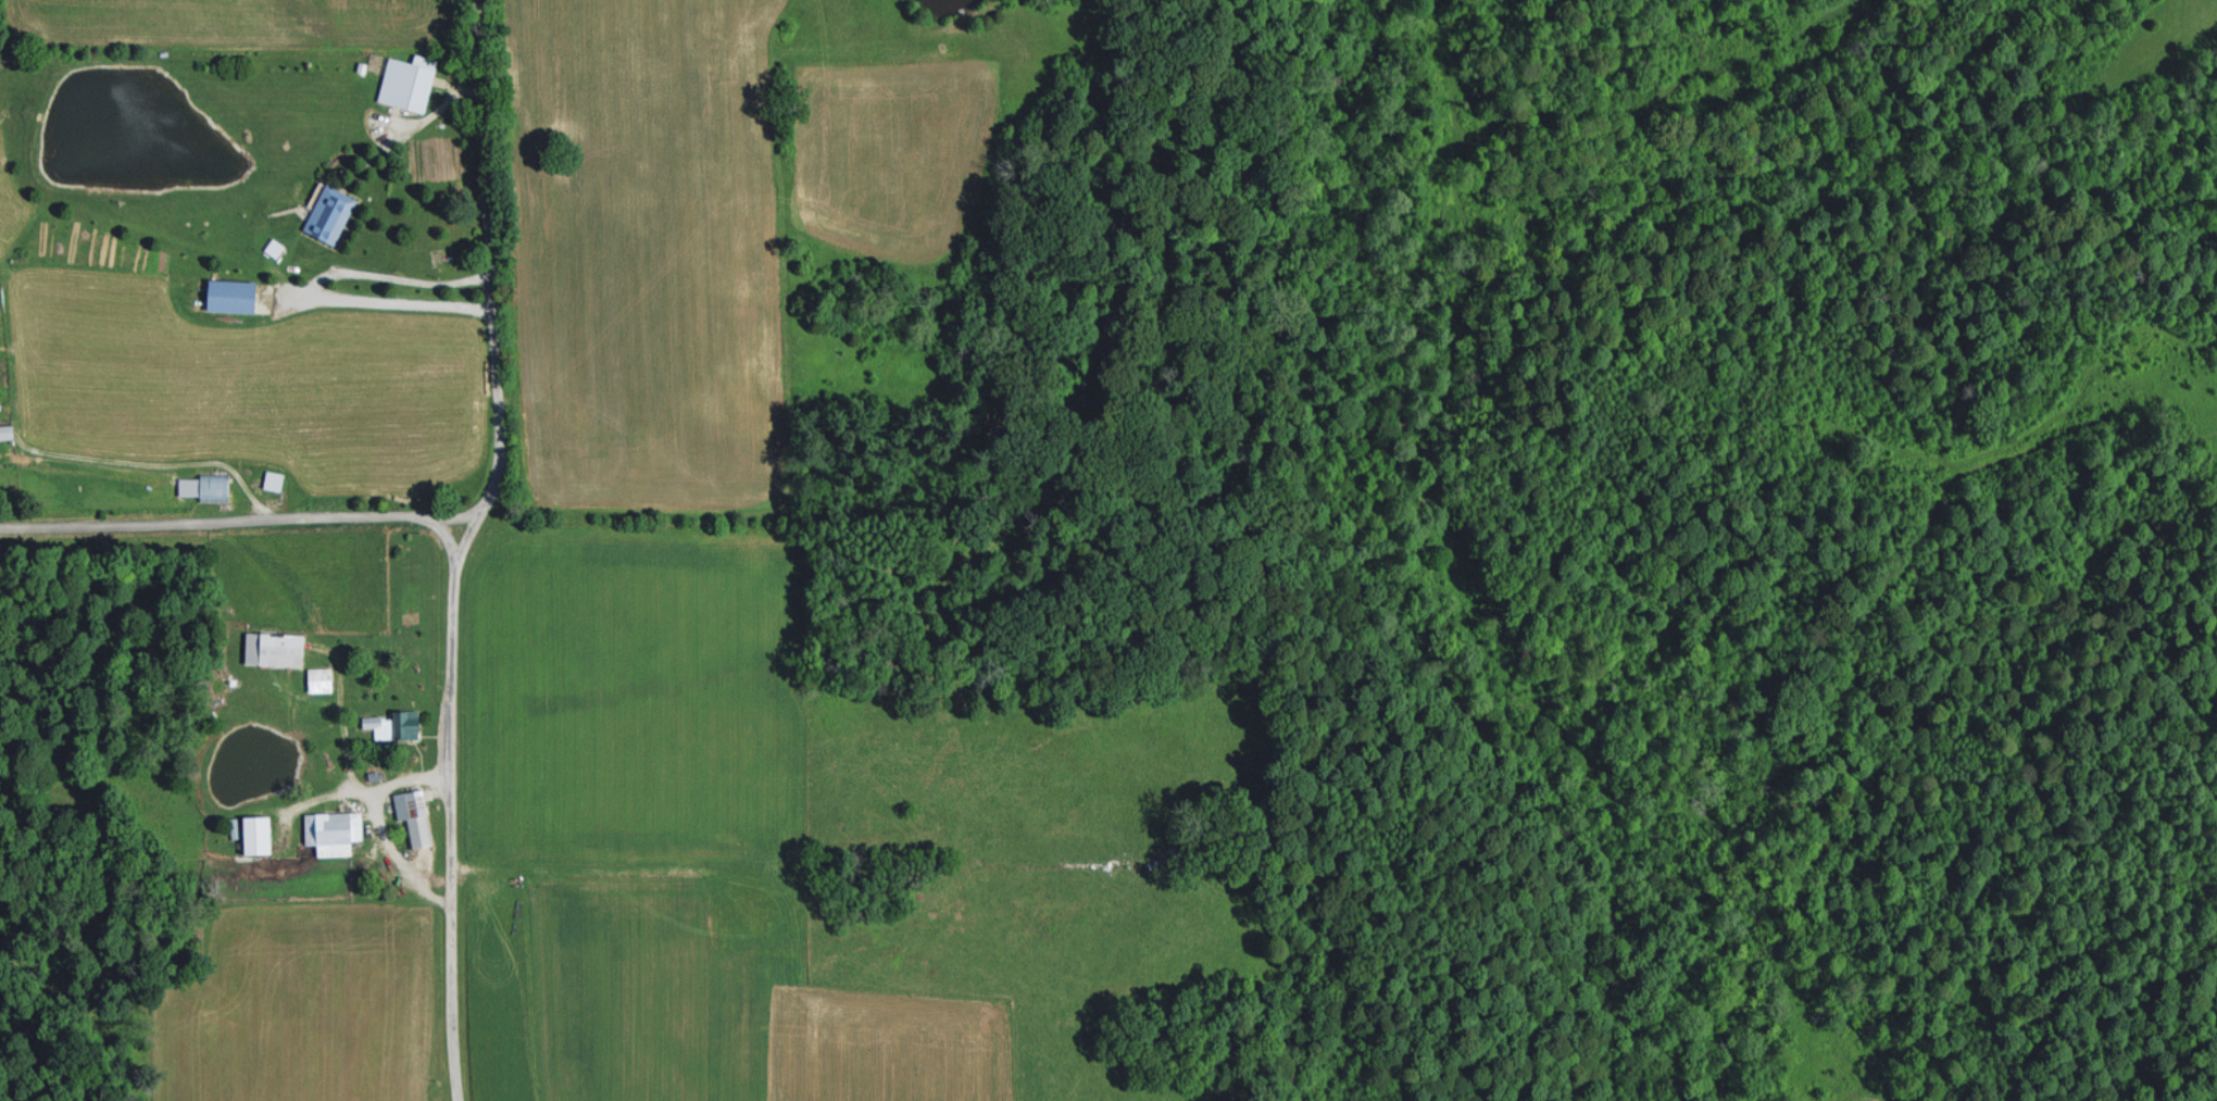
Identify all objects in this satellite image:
building: (410, 82)
building: (331, 213)
road: (318, 284)
building: (235, 296)
building: (8, 430)
building: (275, 479)
building: (208, 486)
road: (241, 518)
road: (447, 536)
road: (463, 547)
building: (276, 647)
building: (322, 678)
building: (396, 723)
road: (366, 788)
building: (416, 814)
building: (335, 830)
building: (260, 833)
road: (394, 856)

